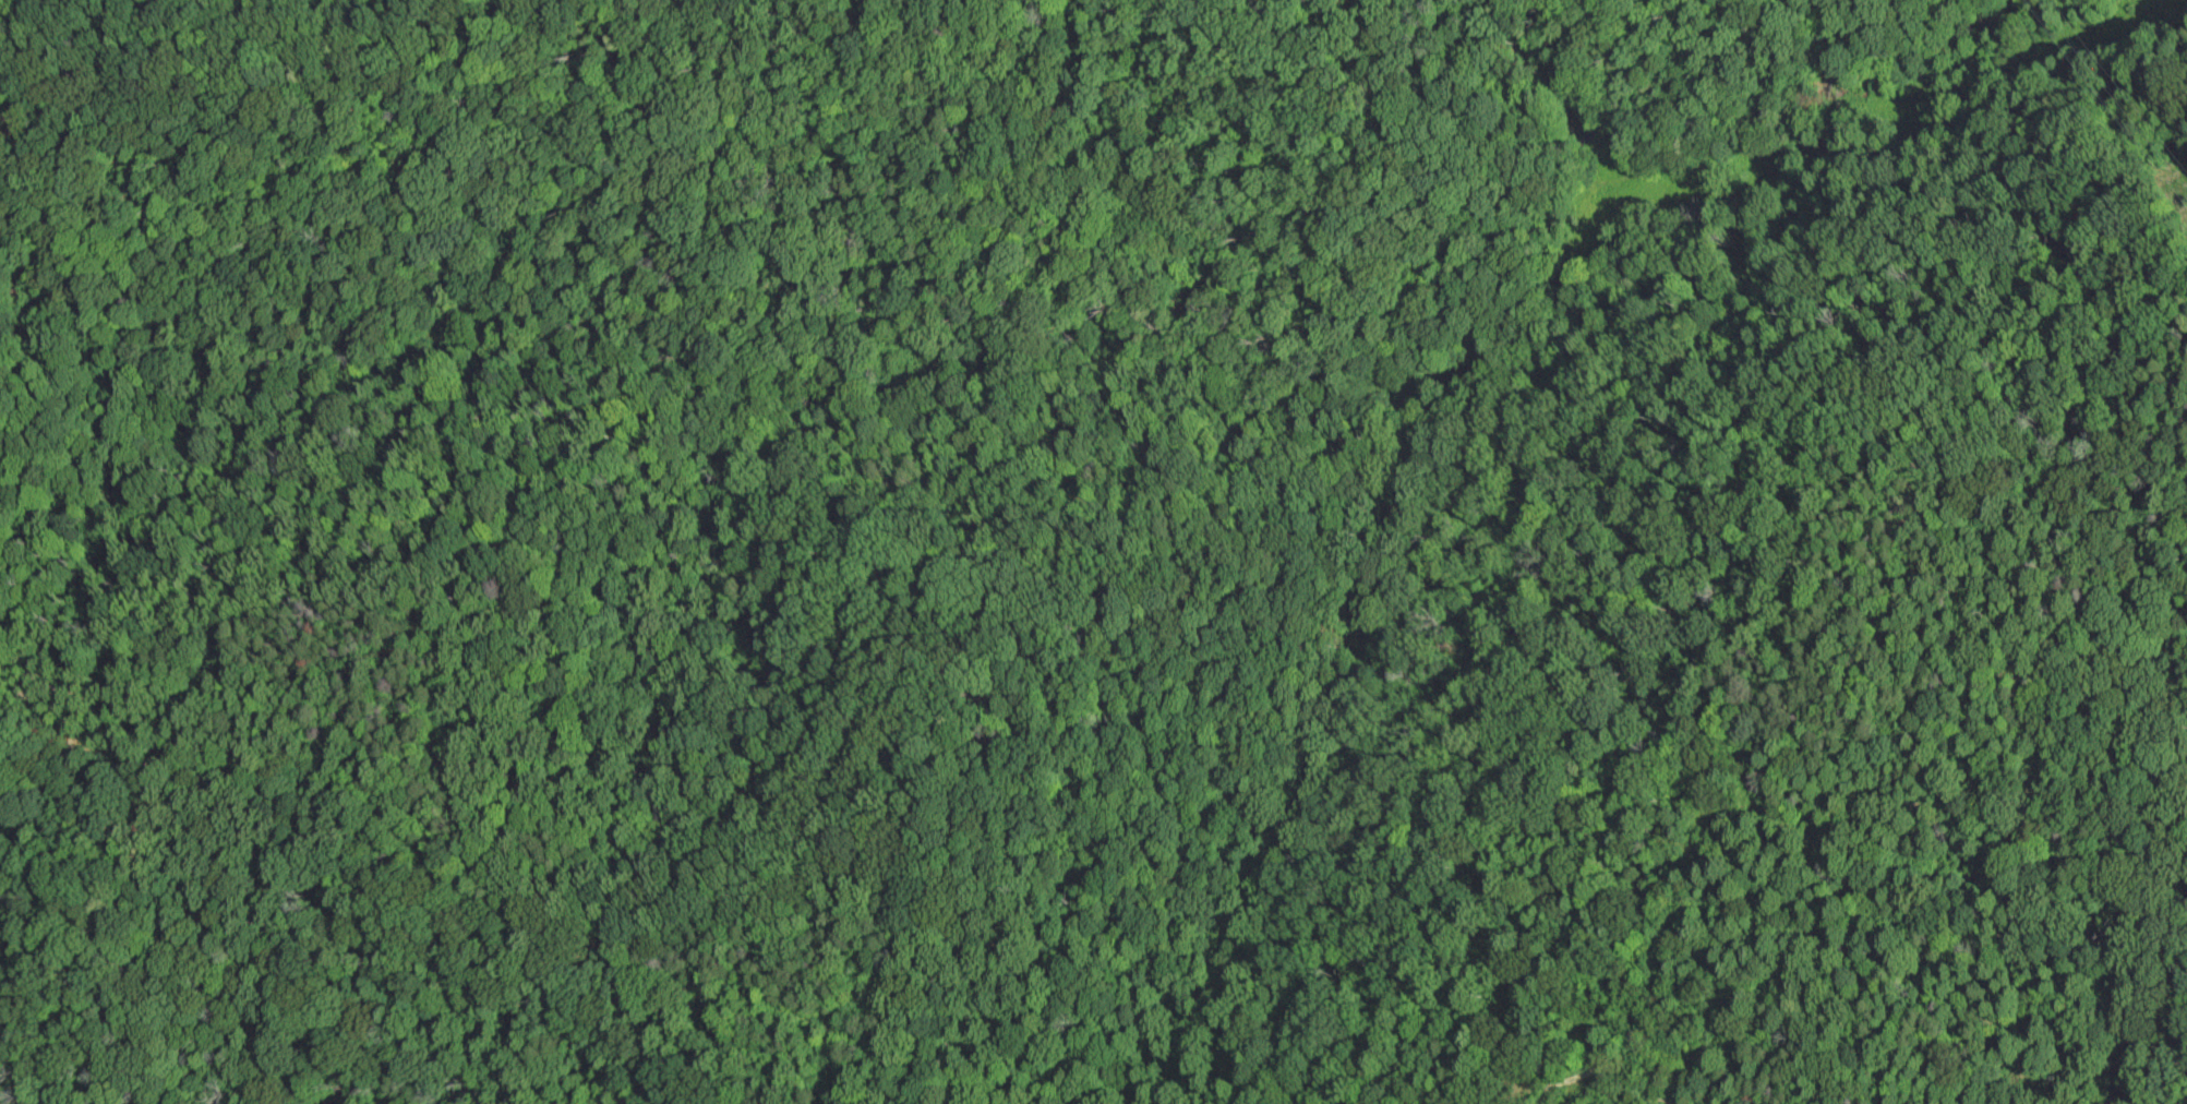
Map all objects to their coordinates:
road: (2182, 719)
road: (419, 830)

